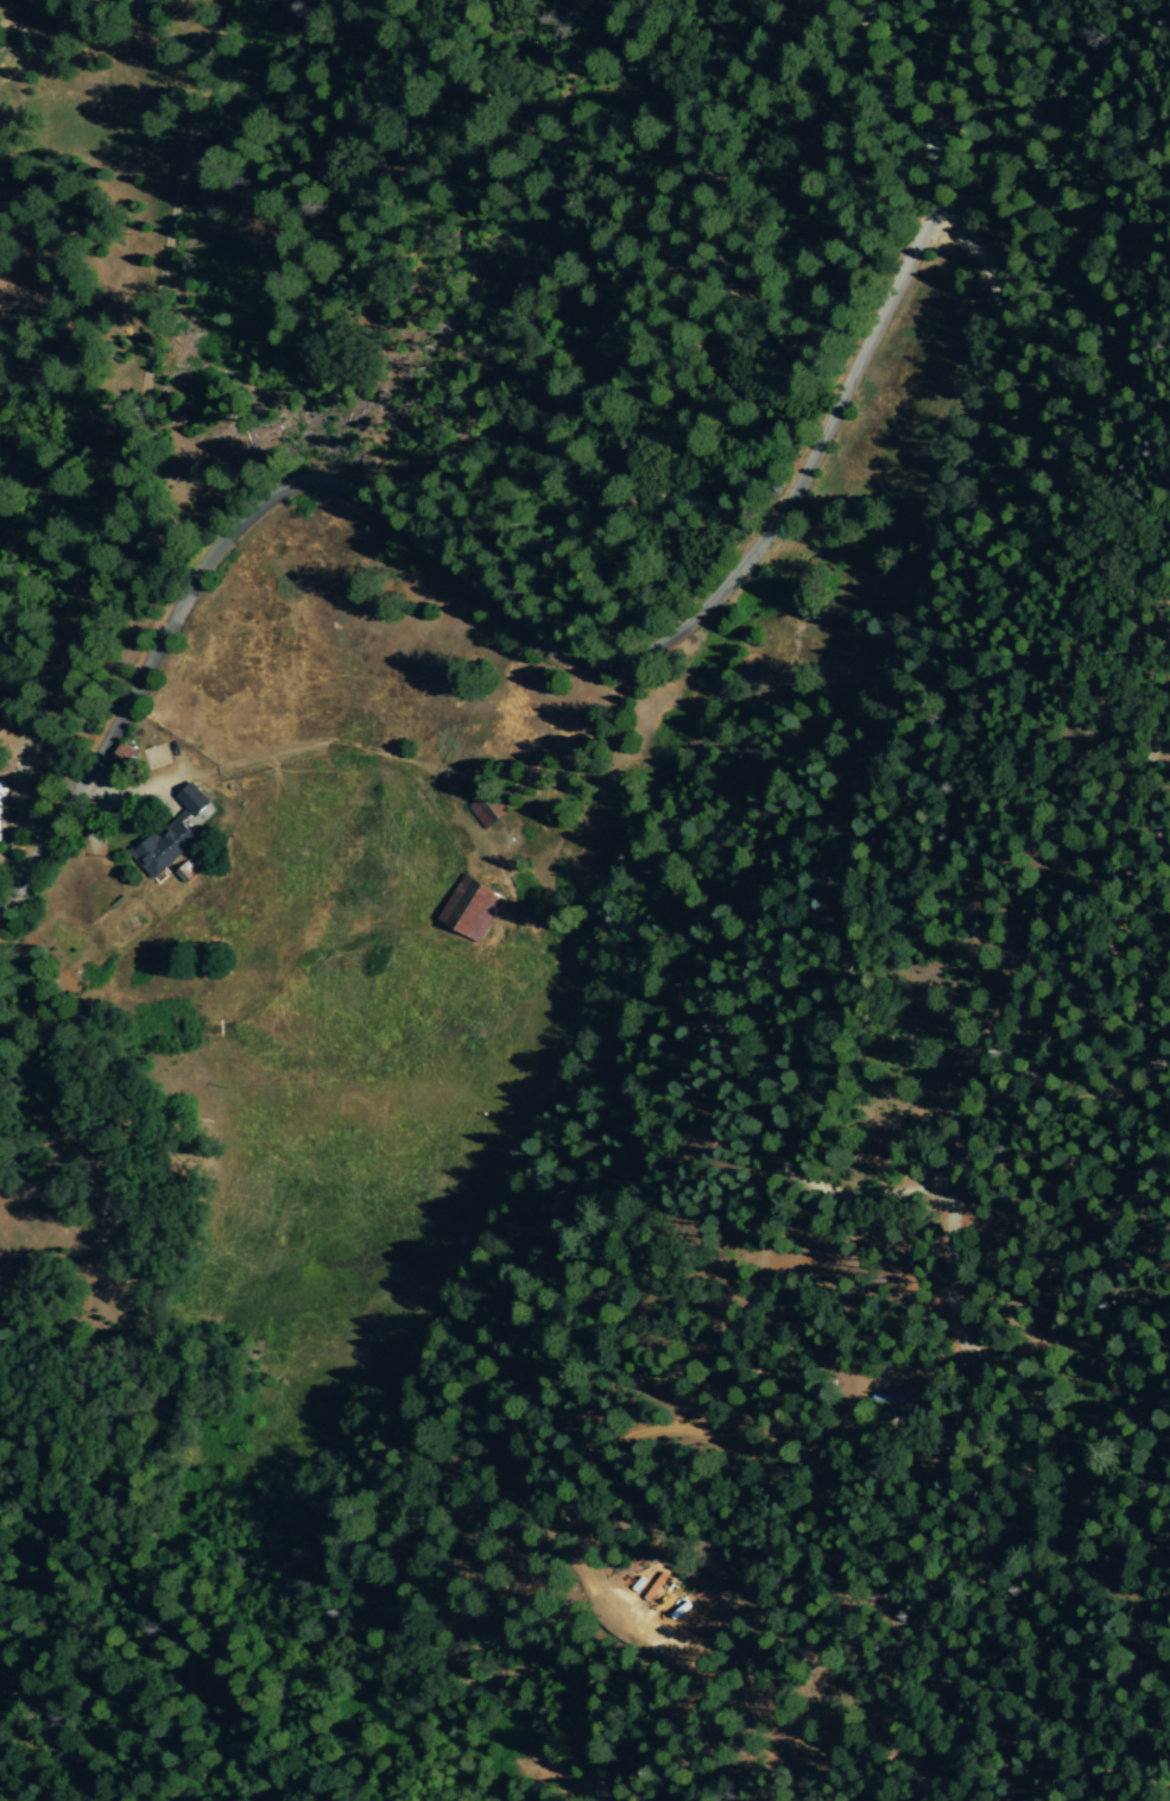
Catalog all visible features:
road: (900, 88)
road: (483, 596)
road: (39, 732)
road: (96, 789)
building: (0, 794)
building: (173, 833)
road: (830, 871)
road: (1070, 958)
road: (902, 1372)
road: (55, 1727)

